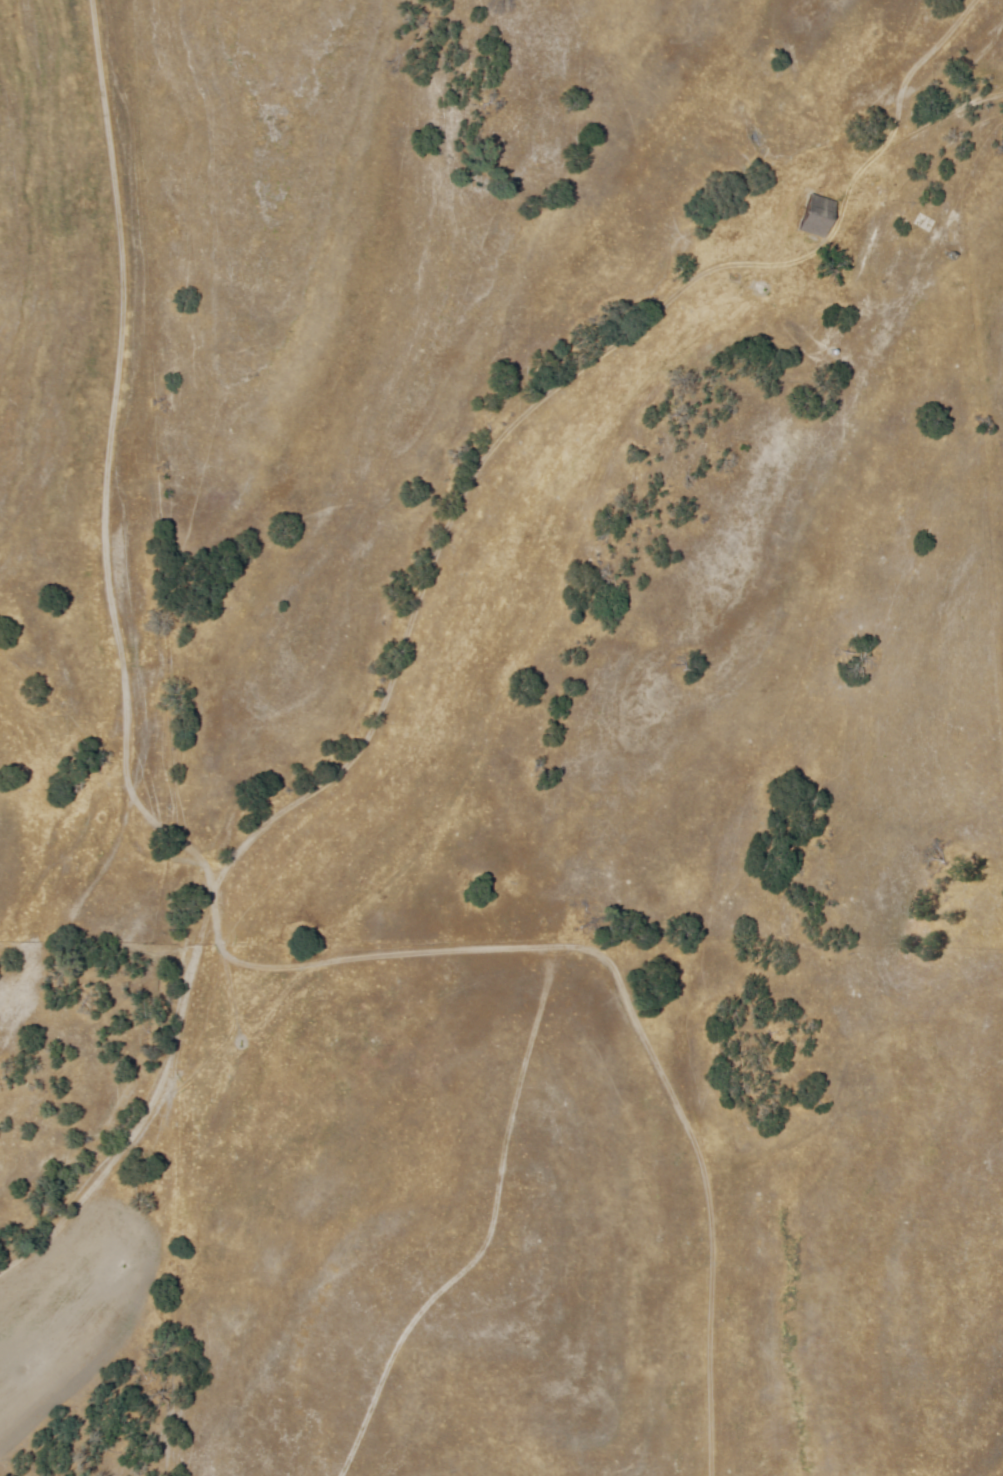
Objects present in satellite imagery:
building: (814, 216)
road: (348, 762)
road: (239, 872)

